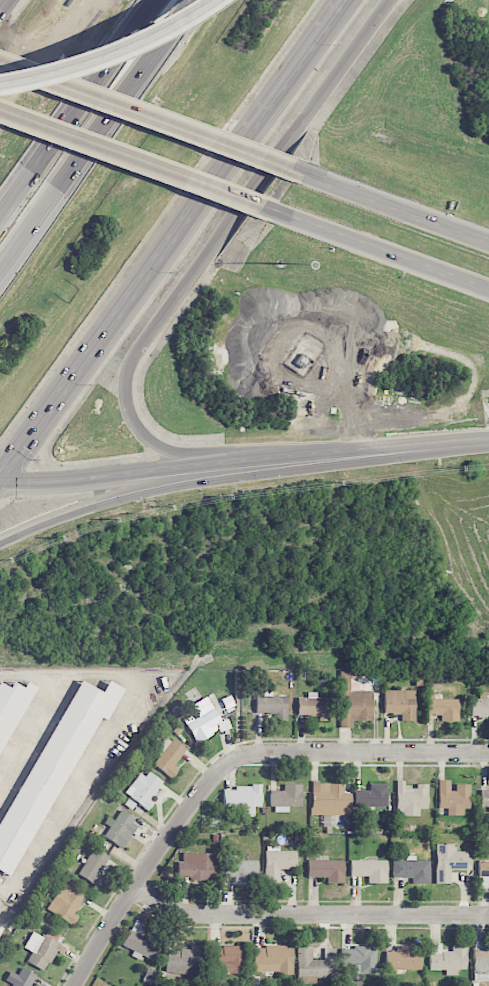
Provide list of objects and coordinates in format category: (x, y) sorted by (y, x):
street lamp: (335, 46)
road: (100, 49)
road: (284, 85)
road: (76, 106)
road: (144, 116)
road: (97, 137)
road: (130, 157)
road: (389, 205)
road: (215, 245)
road: (375, 246)
street lamp: (282, 265)
street lamp: (171, 272)
road: (111, 325)
street lamp: (90, 384)
building: (394, 405)
road: (244, 460)
road: (240, 477)
road: (0, 478)
traffic signals: (1, 479)
building: (353, 700)
building: (400, 703)
building: (9, 705)
building: (480, 705)
building: (272, 706)
building: (314, 706)
building: (444, 708)
building: (202, 719)
road: (28, 727)
road: (106, 731)
road: (348, 749)
building: (168, 756)
building: (51, 768)
building: (142, 789)
building: (371, 796)
building: (453, 796)
building: (286, 798)
building: (484, 798)
building: (241, 799)
building: (410, 799)
building: (330, 801)
building: (119, 827)
building: (448, 861)
building: (277, 862)
building: (93, 865)
building: (194, 866)
building: (326, 869)
building: (412, 869)
building: (242, 870)
building: (369, 870)
building: (483, 874)
road: (140, 876)
building: (1, 899)
building: (65, 903)
road: (308, 912)
building: (140, 942)
building: (41, 950)
building: (447, 957)
building: (481, 957)
building: (361, 958)
building: (184, 959)
building: (229, 959)
building: (272, 959)
building: (403, 959)
building: (315, 965)
building: (20, 978)

